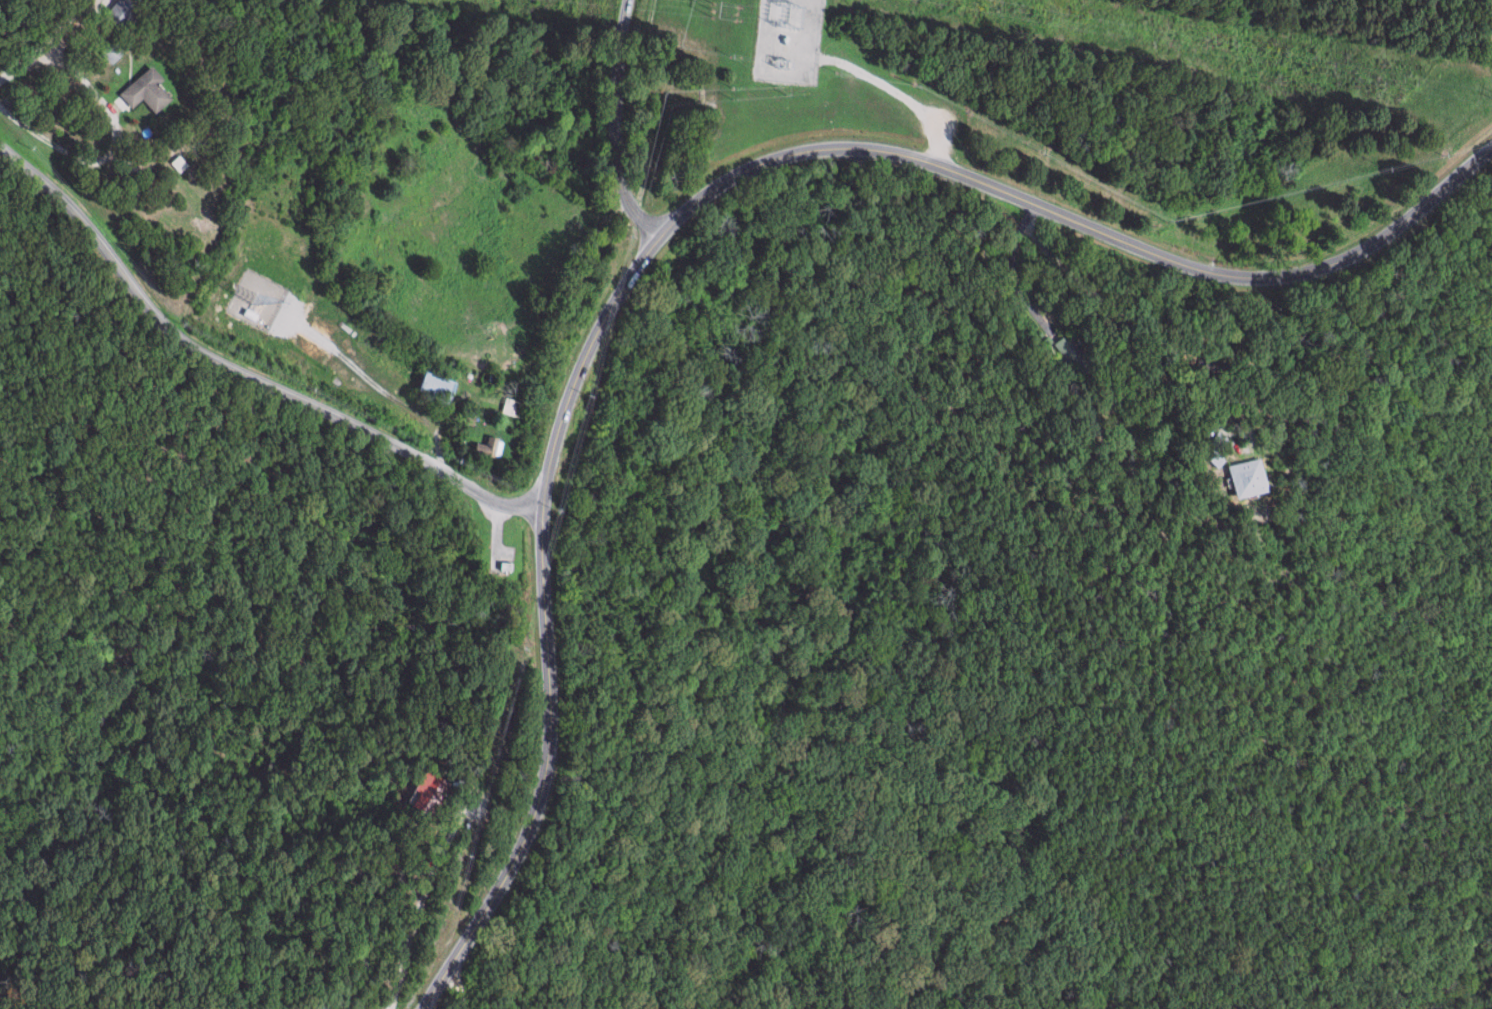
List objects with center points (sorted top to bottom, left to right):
power tower: (713, 9)
building: (124, 12)
power substation: (790, 41)
road: (51, 46)
road: (889, 87)
building: (147, 91)
road: (616, 124)
road: (120, 154)
road: (694, 203)
road: (1028, 214)
road: (1018, 282)
road: (1114, 306)
building: (253, 315)
road: (548, 339)
building: (1074, 354)
road: (239, 372)
road: (373, 380)
building: (438, 389)
road: (1250, 442)
building: (490, 447)
building: (1254, 478)
building: (433, 794)
road: (417, 905)
road: (456, 988)

